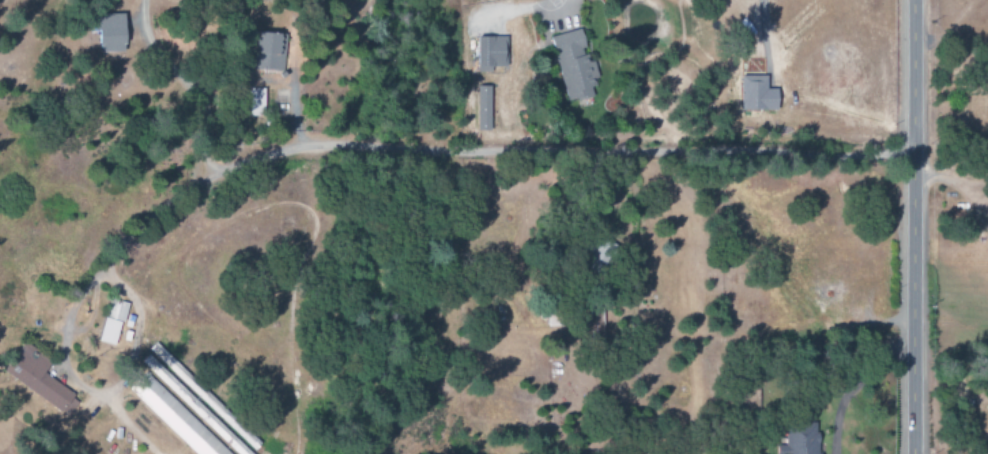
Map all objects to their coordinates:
building: (110, 32)
building: (270, 51)
building: (490, 53)
building: (574, 66)
building: (256, 102)
building: (483, 105)
road: (911, 227)
building: (112, 322)
building: (40, 379)
road: (849, 387)
building: (203, 394)
building: (195, 406)
building: (176, 417)
building: (801, 439)

